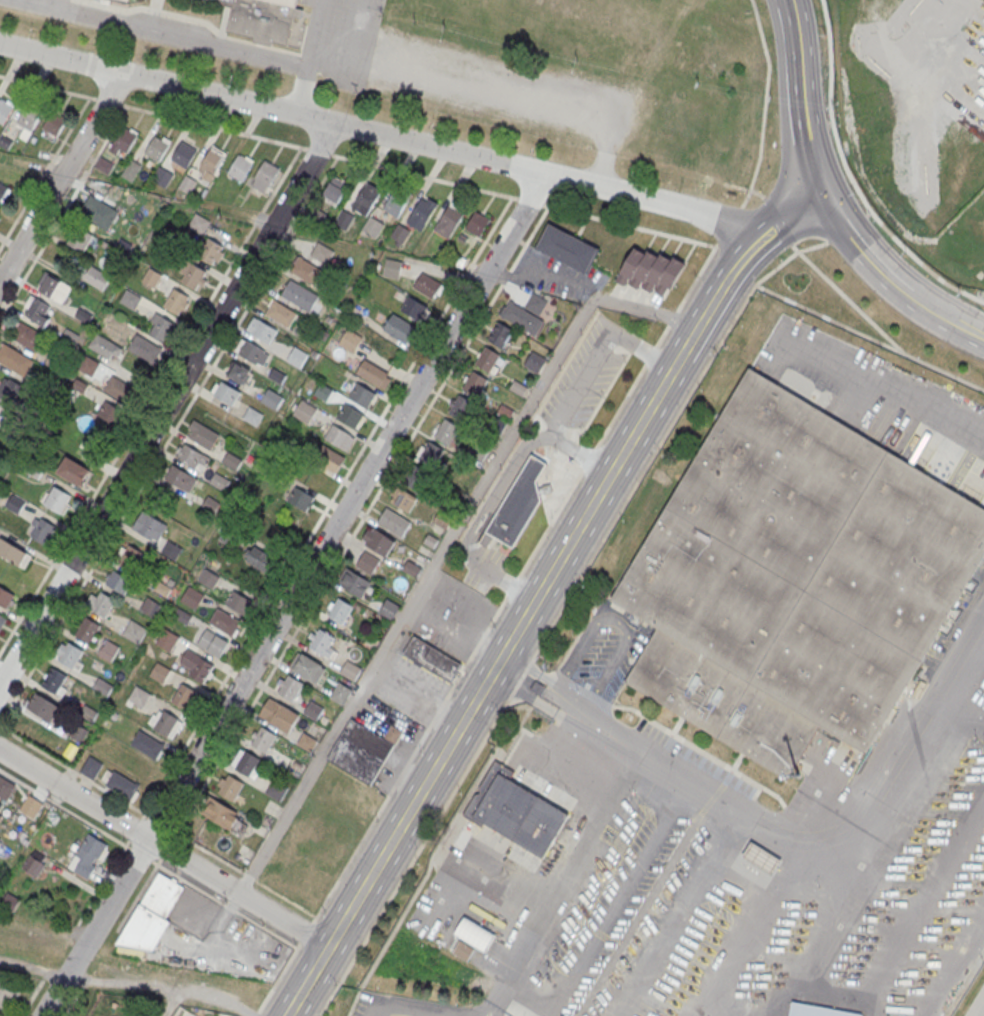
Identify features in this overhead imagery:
building: (125, 0)
building: (128, 0)
parking lot: (40, 6)
building: (261, 18)
road: (355, 38)
park: (635, 43)
road: (310, 57)
road: (507, 61)
road: (344, 75)
parking lot: (465, 76)
road: (47, 86)
road: (797, 99)
road: (108, 100)
road: (764, 104)
building: (5, 110)
road: (980, 115)
building: (29, 117)
building: (55, 122)
road: (213, 125)
road: (381, 134)
building: (124, 139)
building: (157, 148)
road: (317, 150)
building: (184, 153)
building: (212, 160)
building: (105, 166)
building: (240, 167)
building: (131, 171)
road: (45, 172)
road: (851, 172)
building: (265, 175)
road: (61, 176)
road: (423, 176)
building: (162, 178)
building: (187, 186)
road: (744, 187)
building: (2, 189)
building: (335, 191)
traffic signals: (823, 195)
building: (366, 198)
road: (529, 201)
building: (393, 206)
road: (63, 211)
building: (0, 212)
building: (99, 212)
building: (422, 213)
building: (344, 218)
road: (790, 218)
building: (448, 220)
road: (777, 221)
building: (477, 223)
road: (629, 224)
road: (728, 224)
building: (199, 225)
building: (373, 226)
building: (983, 227)
building: (400, 233)
building: (79, 239)
road: (860, 249)
building: (568, 250)
building: (211, 251)
building: (322, 252)
road: (745, 256)
building: (392, 267)
road: (550, 269)
building: (306, 270)
building: (649, 270)
road: (497, 273)
parking lot: (554, 275)
building: (192, 276)
road: (697, 276)
building: (95, 278)
building: (152, 278)
road: (551, 281)
building: (427, 284)
building: (53, 288)
building: (299, 294)
road: (910, 296)
road: (716, 297)
road: (978, 298)
building: (130, 299)
building: (177, 303)
building: (537, 305)
building: (413, 307)
road: (648, 311)
building: (38, 312)
building: (281, 313)
road: (672, 317)
building: (523, 318)
road: (947, 319)
road: (978, 323)
road: (880, 325)
building: (400, 327)
building: (161, 329)
building: (261, 330)
building: (26, 335)
building: (502, 335)
road: (692, 337)
building: (350, 342)
building: (105, 348)
building: (145, 349)
road: (642, 349)
building: (251, 351)
building: (297, 356)
building: (14, 358)
building: (488, 360)
building: (534, 362)
building: (88, 366)
building: (239, 373)
building: (374, 375)
parking lot: (583, 381)
road: (581, 383)
building: (475, 384)
road: (632, 386)
building: (119, 390)
building: (10, 391)
building: (323, 391)
building: (227, 393)
building: (362, 394)
building: (272, 398)
road: (886, 399)
road: (150, 403)
road: (167, 404)
building: (461, 408)
building: (305, 411)
building: (110, 413)
building: (253, 416)
building: (350, 416)
building: (447, 432)
building: (202, 434)
building: (337, 435)
road: (168, 439)
building: (431, 453)
road: (581, 453)
building: (192, 458)
building: (327, 458)
road: (589, 458)
building: (231, 460)
road: (512, 464)
building: (74, 471)
building: (416, 477)
building: (181, 479)
building: (219, 481)
building: (56, 498)
building: (301, 499)
building: (402, 500)
building: (210, 503)
building: (15, 504)
building: (519, 504)
road: (326, 506)
road: (360, 521)
building: (394, 521)
building: (149, 527)
road: (481, 528)
building: (41, 530)
road: (469, 534)
building: (380, 541)
building: (172, 550)
building: (13, 553)
building: (261, 559)
building: (367, 563)
building: (411, 569)
parking lot: (484, 569)
road: (488, 569)
building: (123, 570)
building: (208, 577)
building: (795, 577)
building: (354, 583)
road: (517, 589)
road: (295, 595)
road: (416, 596)
building: (7, 597)
building: (192, 597)
building: (239, 602)
building: (100, 604)
building: (150, 606)
building: (340, 610)
building: (389, 610)
road: (559, 613)
building: (182, 615)
parking lot: (452, 616)
building: (2, 620)
building: (225, 621)
building: (86, 630)
building: (134, 631)
road: (459, 634)
building: (167, 638)
building: (213, 642)
building: (322, 644)
building: (108, 650)
building: (69, 655)
building: (431, 659)
building: (196, 665)
building: (308, 668)
building: (350, 671)
building: (159, 672)
building: (54, 681)
road: (483, 683)
parking lot: (412, 687)
building: (289, 688)
road: (418, 692)
building: (340, 693)
building: (184, 695)
road: (447, 695)
building: (139, 696)
building: (43, 707)
road: (968, 707)
building: (313, 711)
building: (279, 716)
building: (165, 722)
building: (393, 733)
building: (262, 740)
building: (307, 743)
building: (148, 744)
building: (361, 750)
parking lot: (396, 759)
building: (244, 763)
building: (90, 768)
road: (75, 771)
building: (122, 785)
building: (5, 788)
building: (229, 788)
building: (276, 791)
road: (75, 795)
building: (1, 804)
building: (30, 807)
road: (67, 809)
building: (515, 810)
building: (944, 811)
building: (222, 815)
road: (161, 823)
road: (135, 827)
road: (768, 834)
building: (1, 842)
road: (166, 847)
road: (207, 850)
road: (142, 855)
building: (88, 856)
building: (762, 857)
road: (159, 860)
building: (33, 866)
road: (248, 875)
road: (564, 877)
road: (101, 884)
road: (237, 894)
road: (137, 896)
road: (622, 896)
road: (285, 897)
building: (9, 902)
road: (224, 904)
road: (922, 905)
road: (677, 914)
building: (149, 918)
building: (475, 932)
road: (305, 933)
building: (463, 951)
road: (955, 968)
road: (279, 976)
road: (167, 985)
building: (5, 993)
road: (29, 997)
road: (70, 1002)
road: (173, 1002)
road: (491, 1008)
road: (862, 1009)
road: (980, 1009)
road: (257, 1011)
road: (389, 1014)

